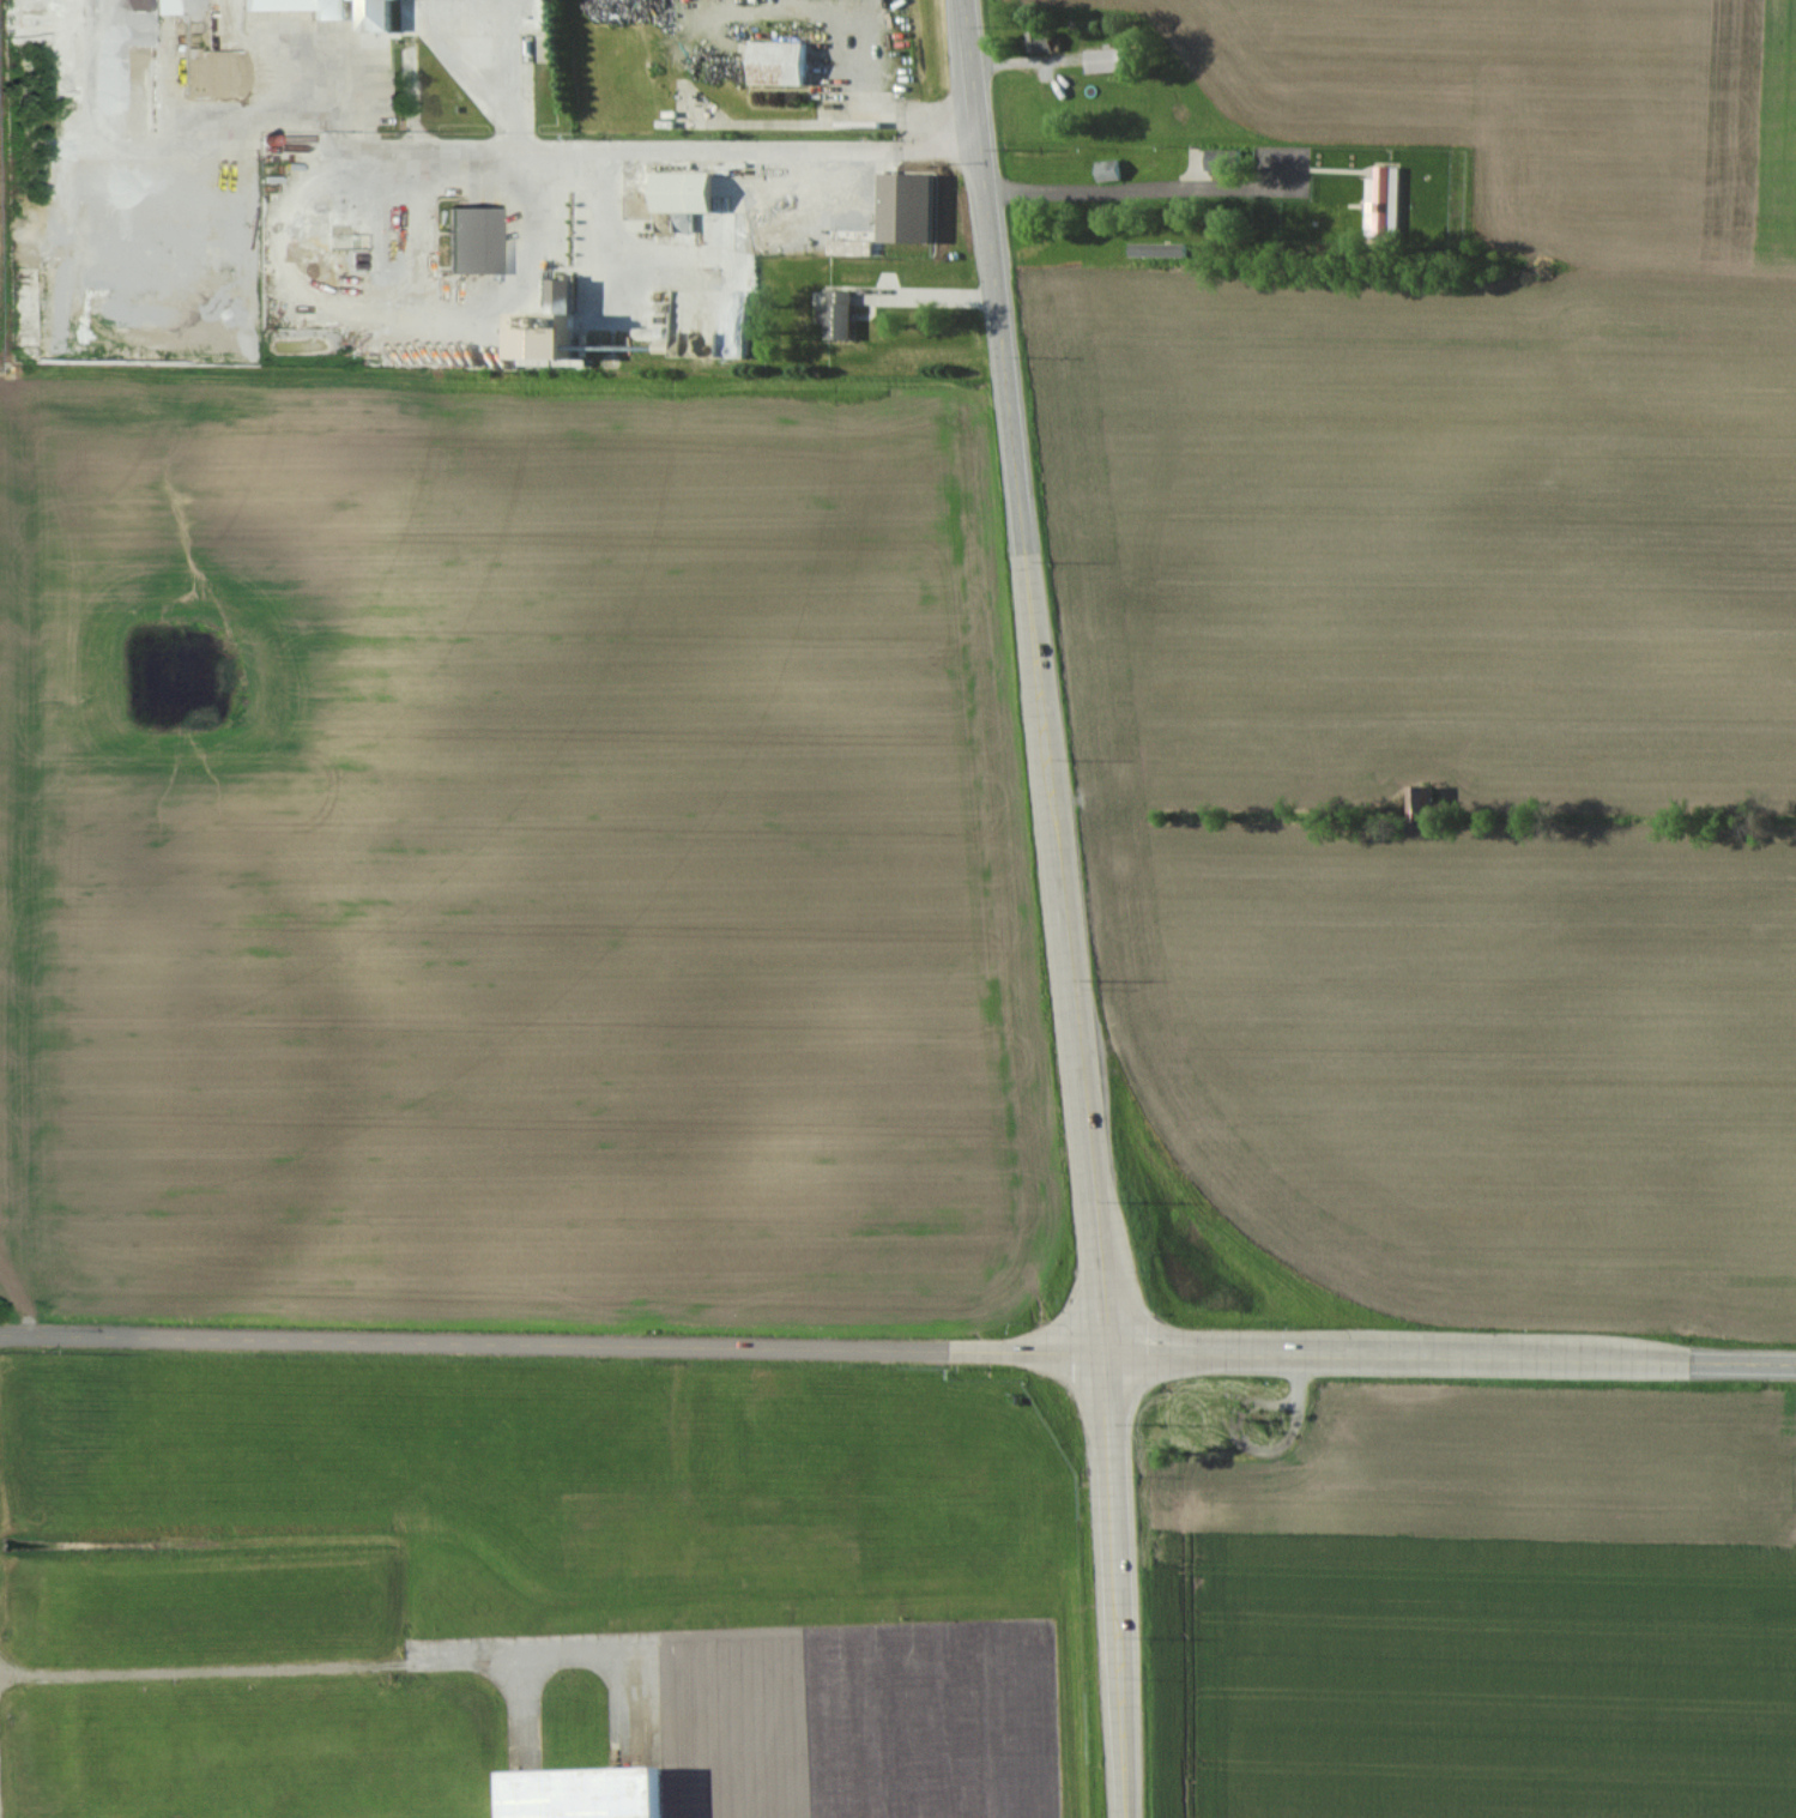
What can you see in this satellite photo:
building: (307, 7)
building: (1045, 42)
building: (1114, 61)
building: (787, 64)
road: (658, 149)
building: (1111, 171)
road: (1138, 188)
building: (693, 230)
building: (477, 242)
road: (933, 291)
building: (847, 334)
building: (29, 340)
road: (1039, 676)
road: (555, 1343)
road: (1453, 1358)
road: (1120, 1584)
road: (371, 1663)
road: (745, 1737)
building: (597, 1793)

